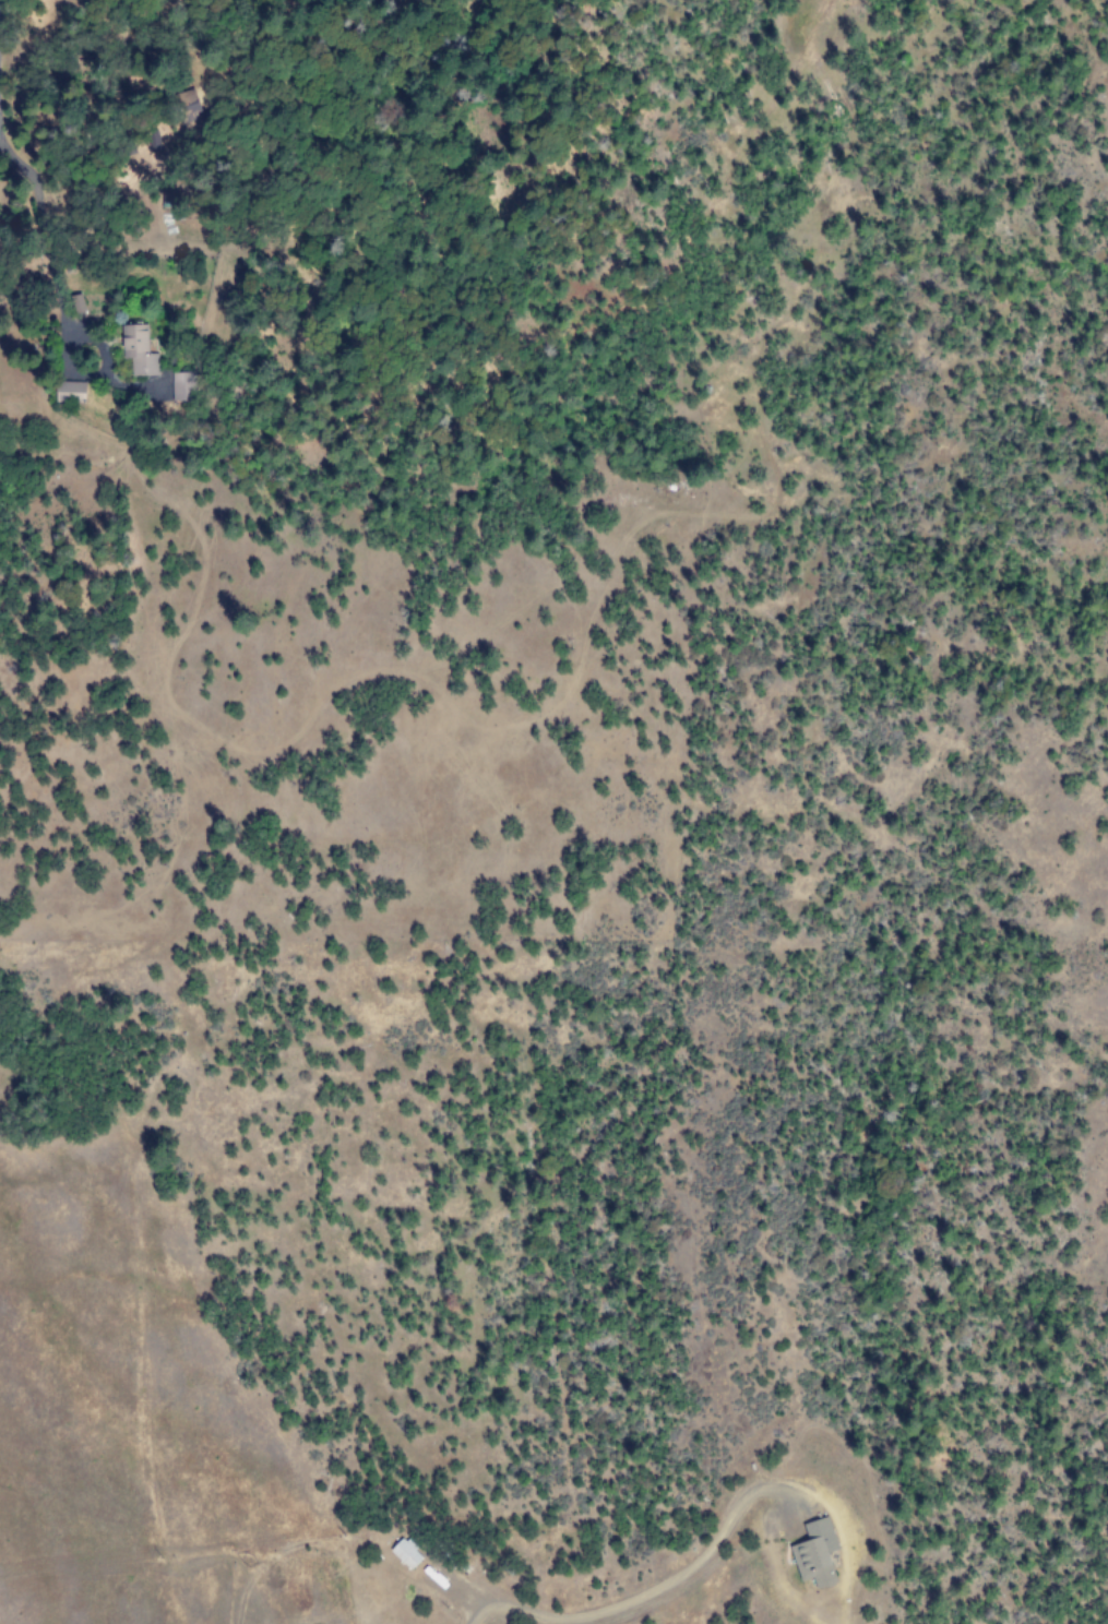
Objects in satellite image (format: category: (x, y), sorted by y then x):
road: (45, 253)
building: (138, 349)
building: (184, 386)
building: (70, 392)
building: (814, 1553)
building: (405, 1554)
road: (655, 1584)

